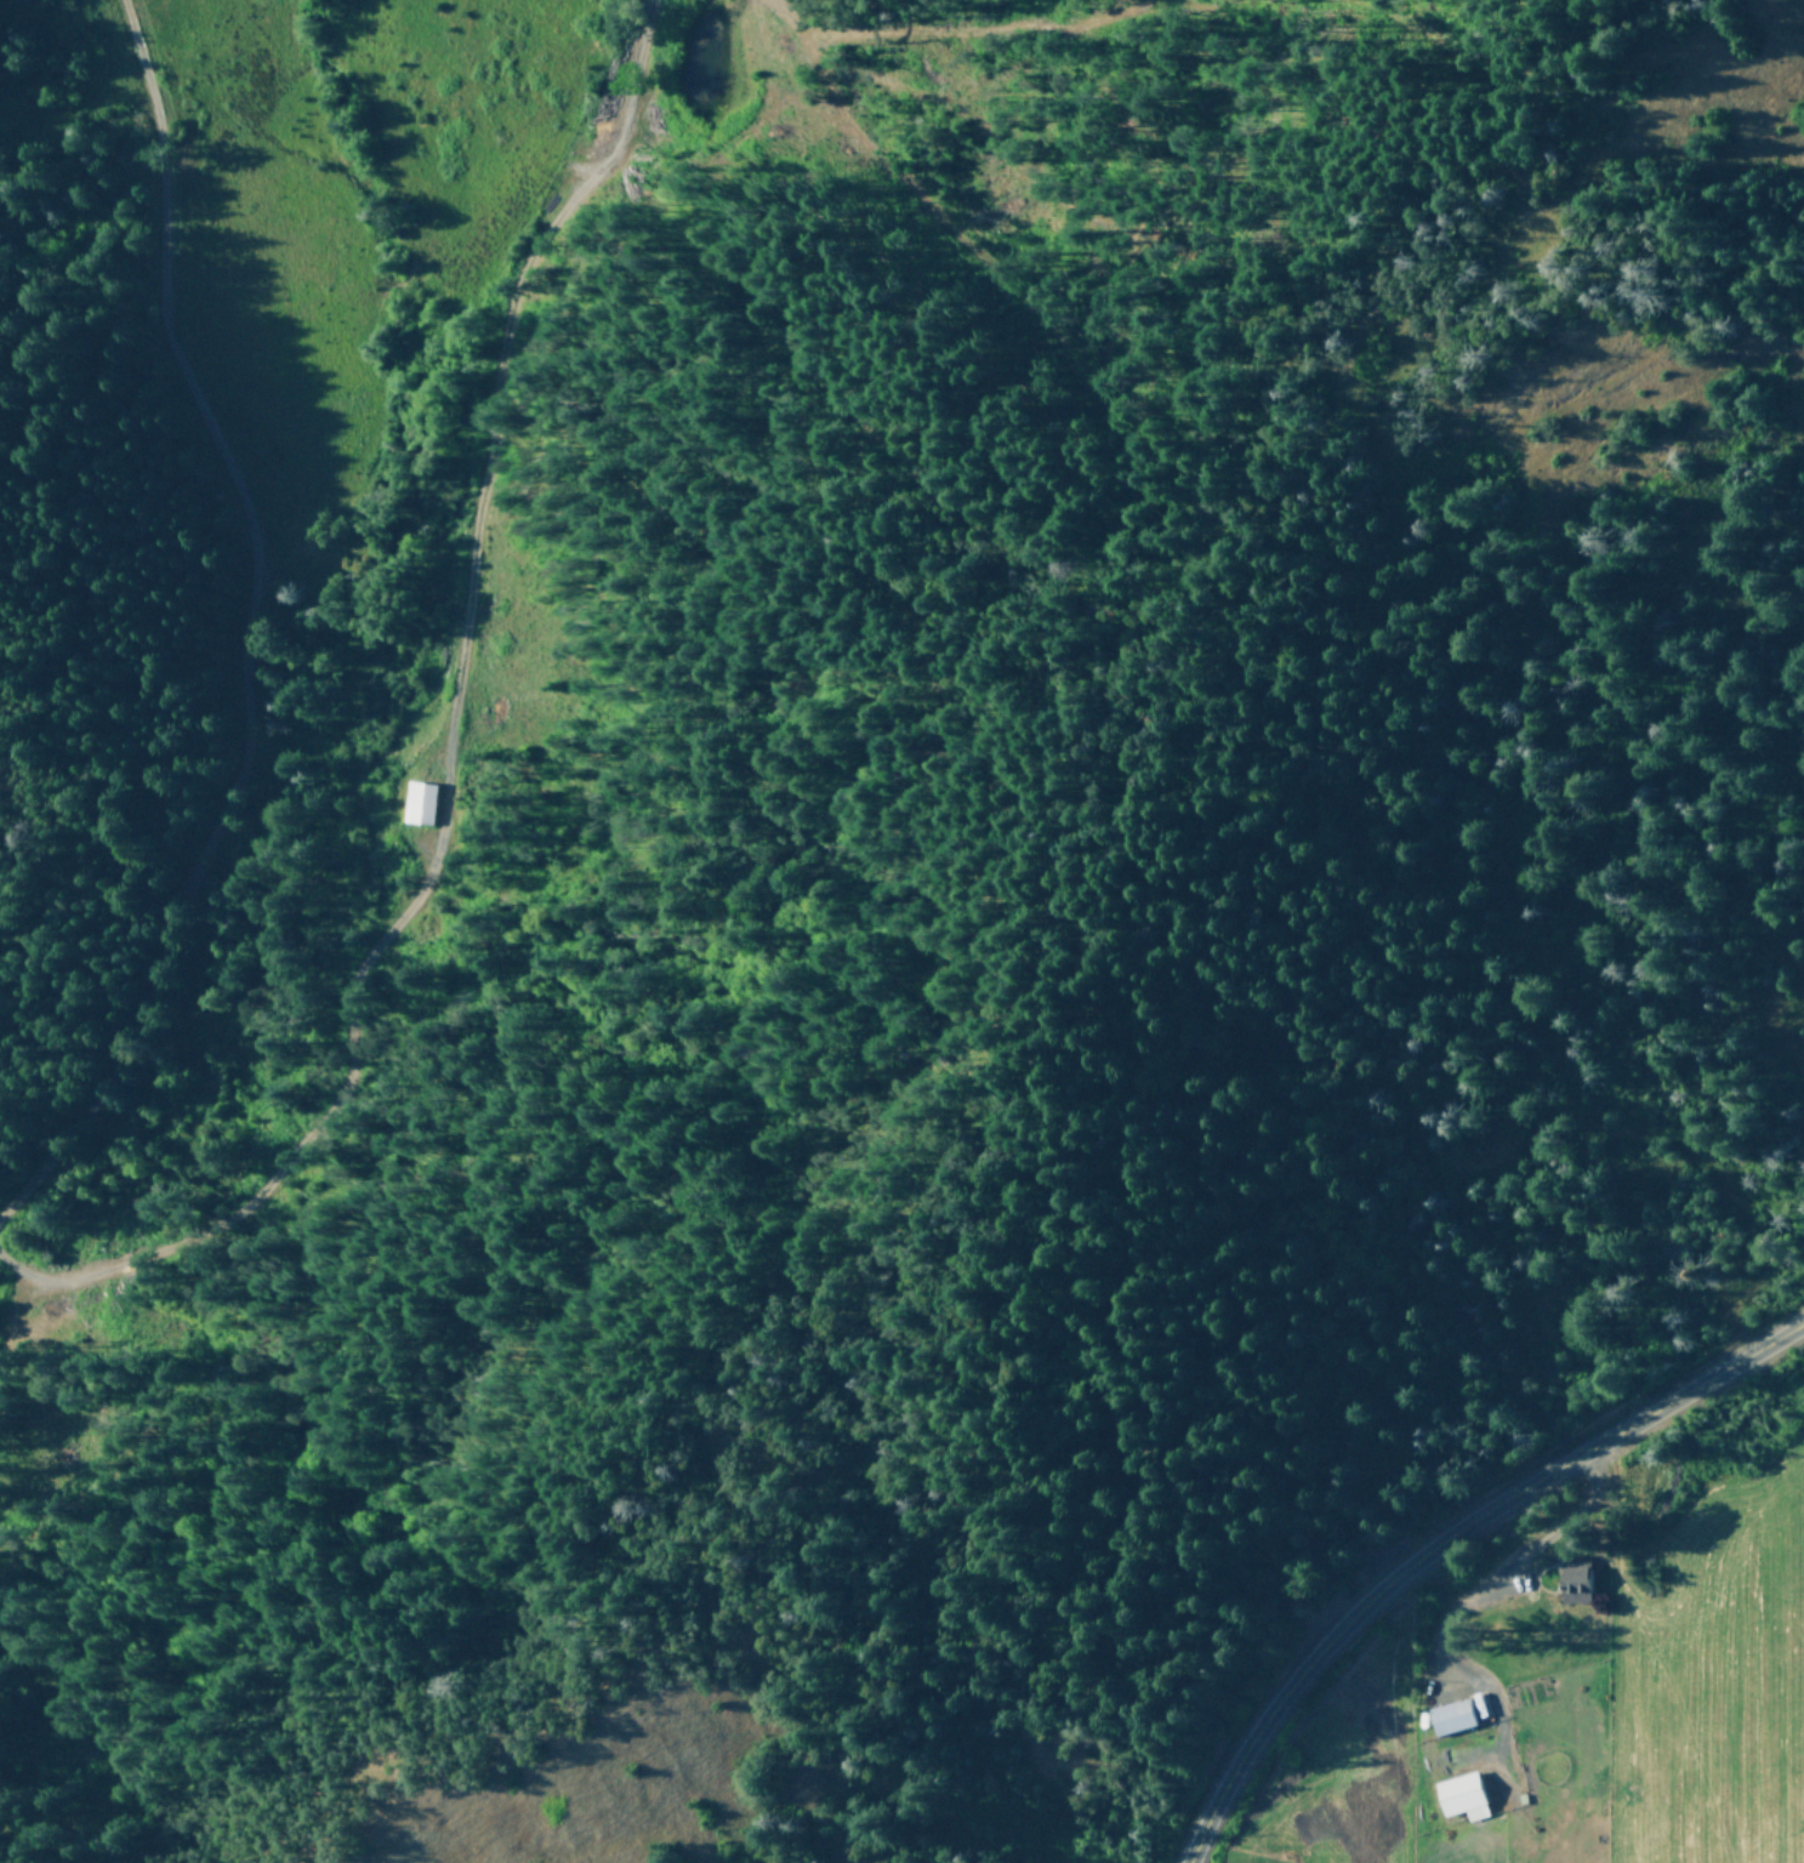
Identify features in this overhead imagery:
road: (232, 662)
building: (417, 802)
road: (1444, 1544)
building: (1573, 1584)
building: (1453, 1714)
building: (1459, 1795)

